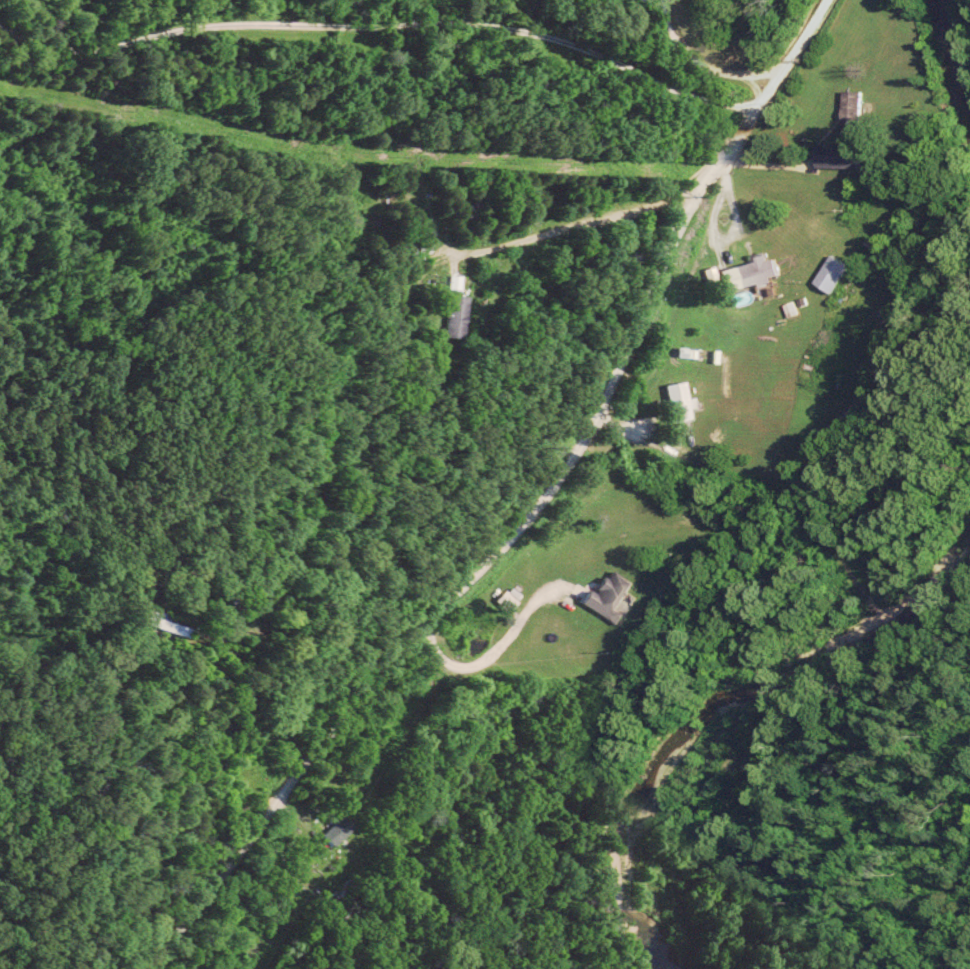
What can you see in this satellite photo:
road: (385, 29)
road: (795, 51)
road: (706, 60)
river: (943, 71)
building: (837, 156)
road: (719, 230)
building: (750, 272)
building: (832, 275)
building: (459, 282)
building: (459, 316)
road: (848, 332)
building: (681, 402)
road: (346, 432)
road: (827, 546)
road: (496, 560)
building: (610, 597)
building: (510, 601)
road: (117, 783)
building: (340, 831)

